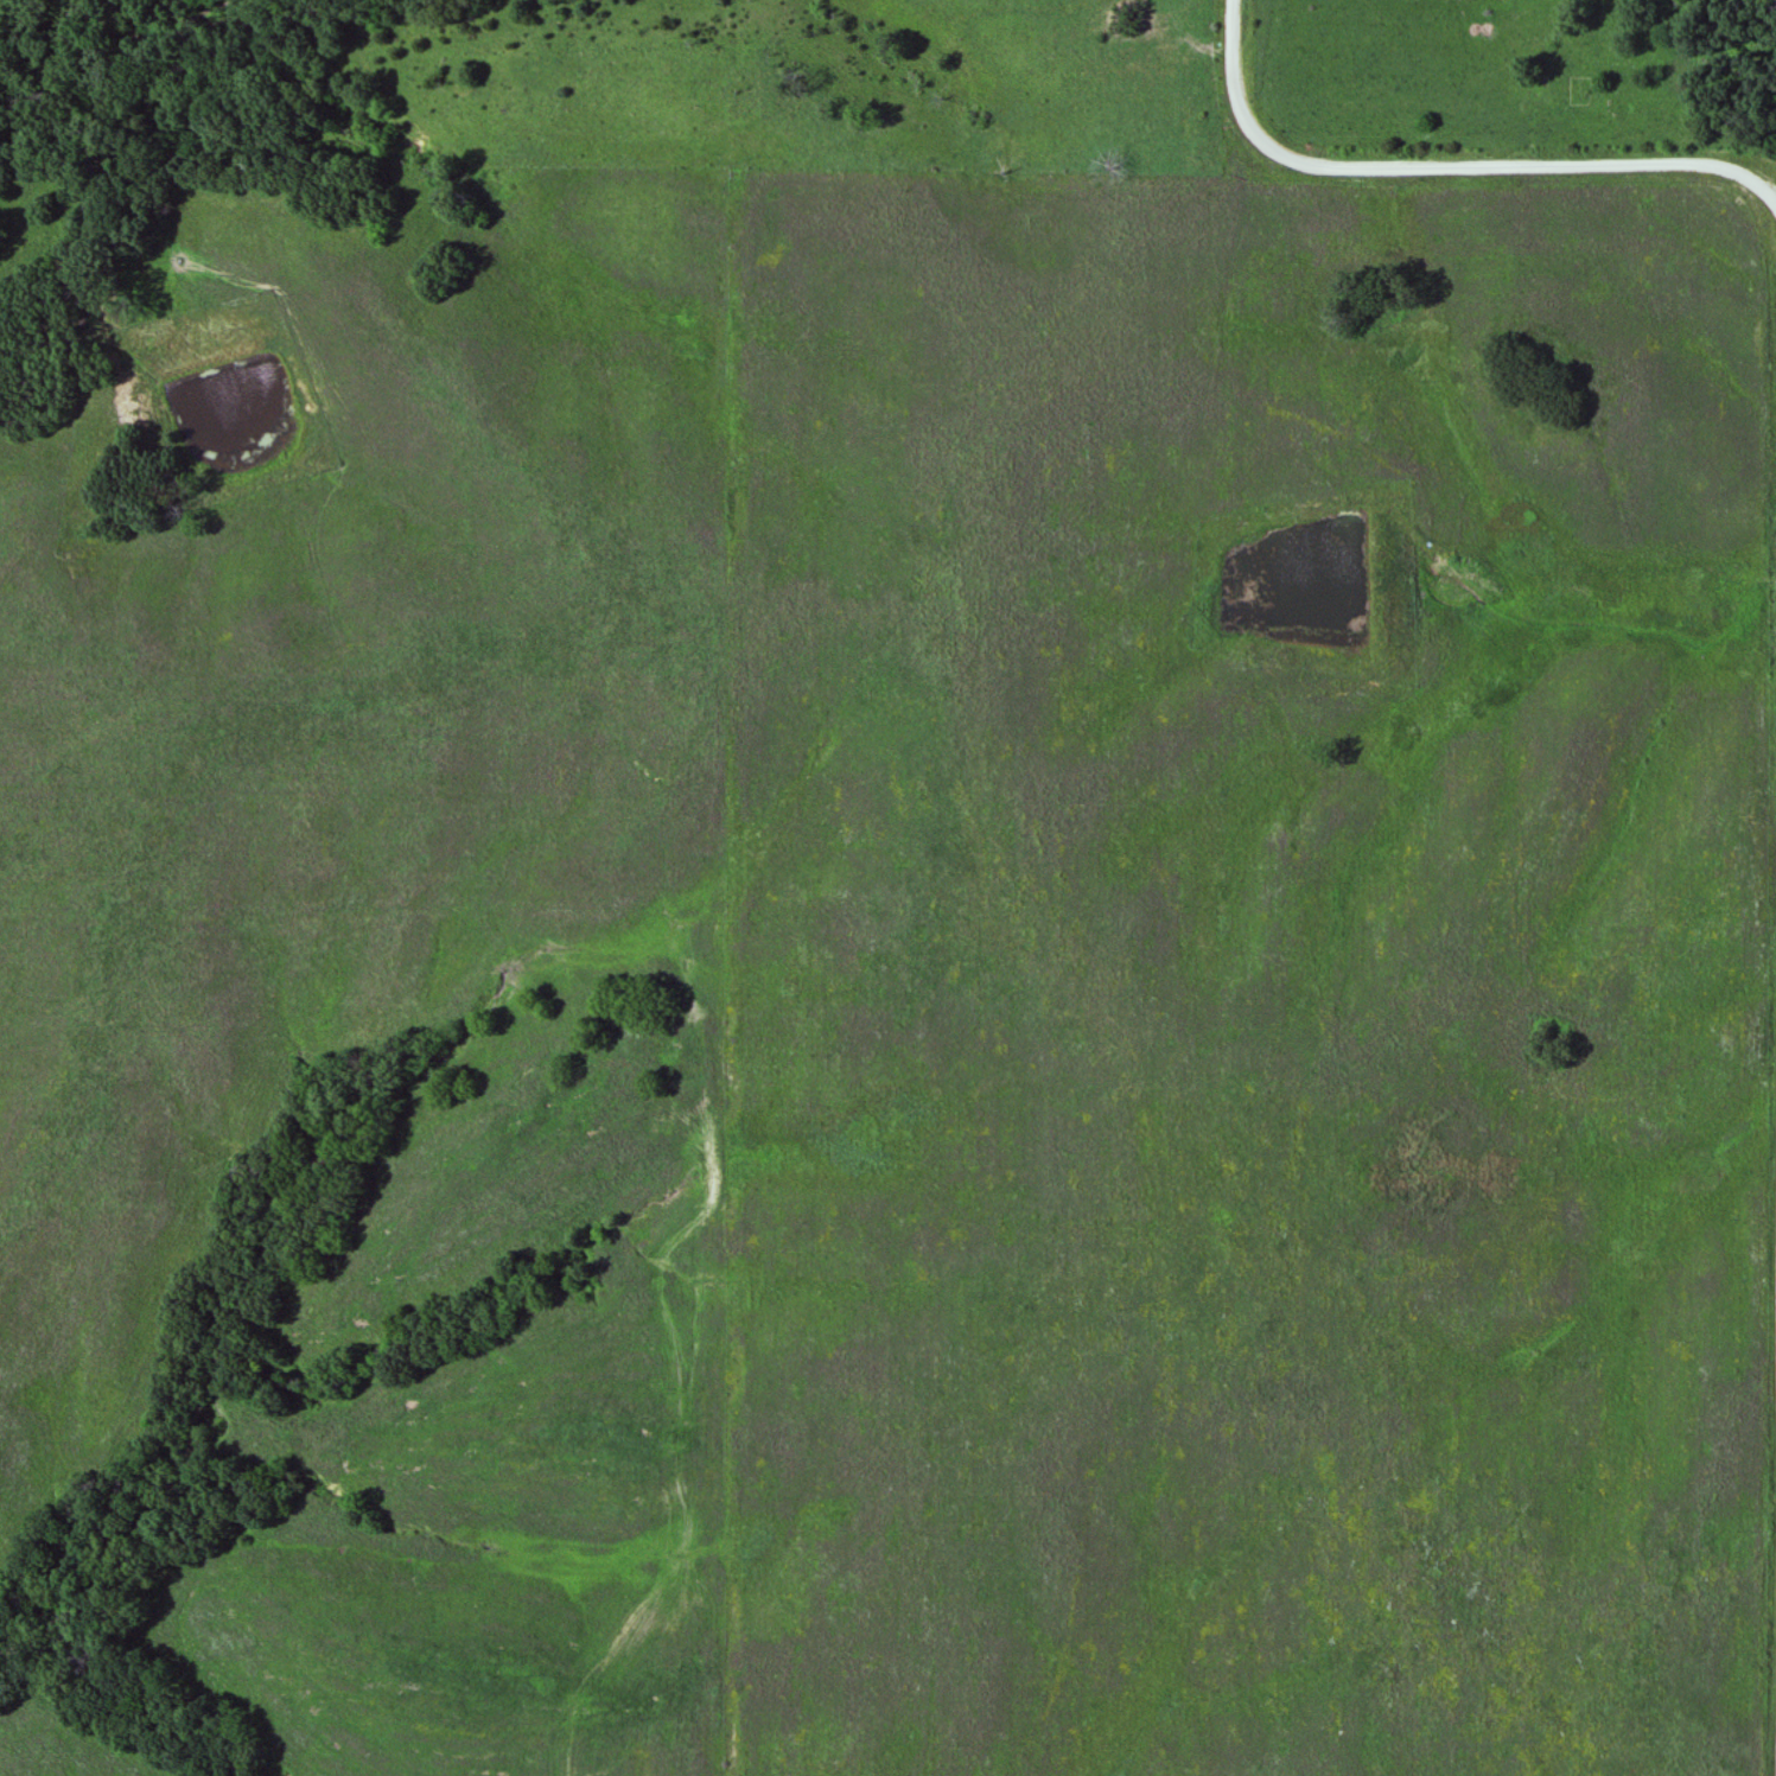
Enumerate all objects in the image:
road: (1445, 173)
road: (1771, 203)
road: (1771, 893)
road: (1771, 1489)

